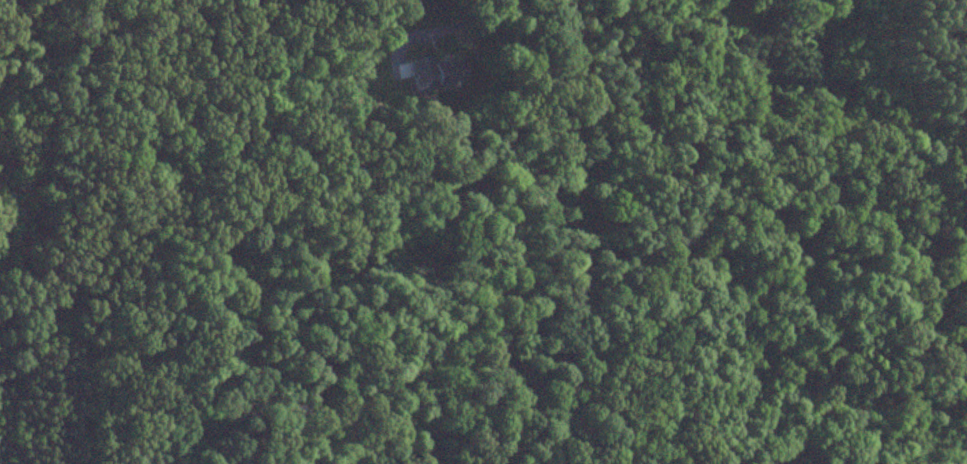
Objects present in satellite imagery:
road: (450, 27)
building: (432, 73)

